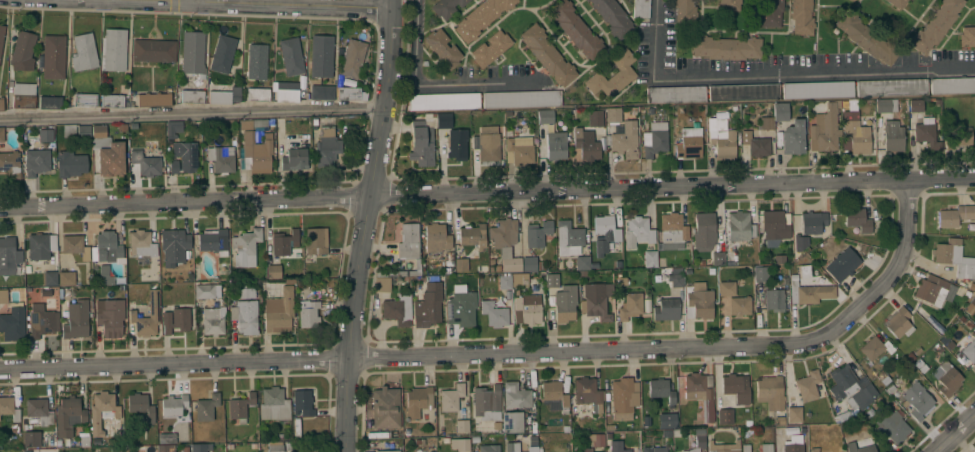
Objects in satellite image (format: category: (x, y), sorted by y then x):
road: (189, 0)
building: (587, 0)
building: (850, 0)
road: (289, 2)
road: (272, 3)
building: (897, 3)
building: (729, 5)
building: (446, 7)
building: (641, 9)
building: (685, 11)
building: (770, 13)
building: (481, 17)
building: (613, 17)
building: (801, 17)
building: (935, 25)
building: (575, 29)
building: (1, 36)
building: (967, 36)
building: (867, 38)
building: (726, 47)
building: (443, 48)
building: (491, 48)
building: (22, 49)
building: (115, 49)
building: (153, 50)
building: (83, 52)
building: (192, 53)
building: (222, 53)
building: (321, 55)
building: (547, 55)
building: (291, 56)
building: (53, 57)
building: (353, 58)
building: (256, 61)
building: (612, 75)
road: (777, 76)
road: (443, 84)
building: (952, 85)
building: (892, 87)
building: (817, 89)
building: (288, 91)
building: (321, 92)
building: (744, 92)
building: (351, 93)
building: (257, 94)
building: (675, 94)
building: (23, 95)
building: (192, 96)
building: (225, 96)
building: (85, 99)
building: (521, 99)
building: (111, 100)
building: (154, 100)
building: (444, 101)
building: (50, 102)
building: (1, 103)
building: (919, 105)
building: (883, 106)
building: (780, 111)
road: (191, 113)
building: (613, 114)
building: (545, 116)
building: (595, 119)
building: (445, 120)
building: (766, 123)
building: (245, 124)
building: (115, 128)
building: (173, 128)
building: (825, 128)
building: (68, 130)
building: (83, 131)
building: (98, 131)
building: (1, 134)
building: (854, 134)
building: (45, 135)
building: (926, 135)
building: (961, 136)
building: (891, 137)
building: (721, 138)
building: (793, 138)
building: (654, 139)
building: (624, 140)
building: (136, 143)
building: (422, 143)
building: (487, 143)
building: (688, 143)
building: (586, 144)
building: (755, 144)
building: (454, 145)
building: (556, 145)
building: (327, 147)
building: (519, 148)
building: (256, 152)
building: (183, 156)
building: (294, 157)
building: (222, 158)
building: (111, 159)
building: (36, 161)
building: (145, 163)
building: (10, 164)
building: (70, 164)
road: (487, 192)
building: (955, 215)
building: (858, 219)
building: (810, 223)
road: (364, 225)
building: (739, 226)
building: (774, 226)
building: (638, 231)
building: (672, 231)
building: (704, 232)
building: (537, 233)
building: (605, 233)
building: (473, 236)
building: (436, 237)
building: (568, 238)
building: (173, 240)
building: (214, 241)
building: (315, 241)
building: (408, 241)
building: (283, 242)
building: (505, 243)
building: (141, 244)
building: (75, 246)
building: (245, 246)
building: (40, 247)
building: (106, 248)
building: (9, 256)
building: (953, 257)
building: (717, 258)
building: (650, 259)
building: (582, 263)
building: (461, 264)
building: (529, 264)
building: (842, 264)
building: (273, 272)
building: (760, 274)
building: (104, 275)
building: (676, 277)
building: (50, 278)
building: (66, 278)
building: (519, 279)
building: (504, 282)
building: (381, 284)
building: (726, 288)
building: (931, 290)
building: (205, 291)
building: (809, 292)
building: (3, 296)
building: (560, 297)
building: (777, 299)
building: (596, 300)
building: (700, 300)
building: (630, 305)
building: (739, 305)
building: (970, 305)
building: (153, 309)
building: (398, 309)
building: (461, 309)
building: (667, 309)
building: (428, 310)
building: (527, 310)
building: (279, 311)
building: (245, 313)
building: (308, 313)
building: (494, 314)
building: (108, 317)
building: (76, 319)
building: (40, 320)
building: (176, 320)
building: (213, 321)
building: (899, 322)
building: (12, 324)
building: (875, 348)
building: (969, 350)
road: (506, 352)
building: (946, 378)
building: (841, 380)
building: (808, 385)
building: (737, 387)
building: (661, 390)
building: (770, 392)
building: (588, 393)
building: (867, 393)
building: (555, 394)
building: (700, 394)
building: (516, 395)
building: (451, 397)
building: (624, 398)
building: (486, 400)
building: (917, 400)
building: (418, 401)
building: (303, 403)
building: (274, 404)
building: (550, 404)
building: (174, 405)
building: (141, 406)
building: (206, 407)
building: (240, 407)
building: (9, 408)
building: (385, 408)
building: (39, 410)
building: (102, 411)
building: (794, 414)
building: (69, 416)
building: (725, 417)
building: (667, 420)
building: (512, 421)
building: (462, 425)
building: (892, 427)
road: (955, 432)
building: (167, 437)
building: (31, 439)
building: (596, 439)
building: (698, 440)
building: (858, 443)
building: (460, 444)
building: (537, 444)
building: (275, 446)
building: (512, 446)
building: (616, 446)
building: (200, 447)
building: (724, 447)
building: (765, 447)
building: (793, 447)
building: (165, 448)
building: (489, 448)
building: (746, 448)
building: (586, 449)
building: (654, 449)
building: (387, 450)
building: (814, 450)
building: (432, 451)

